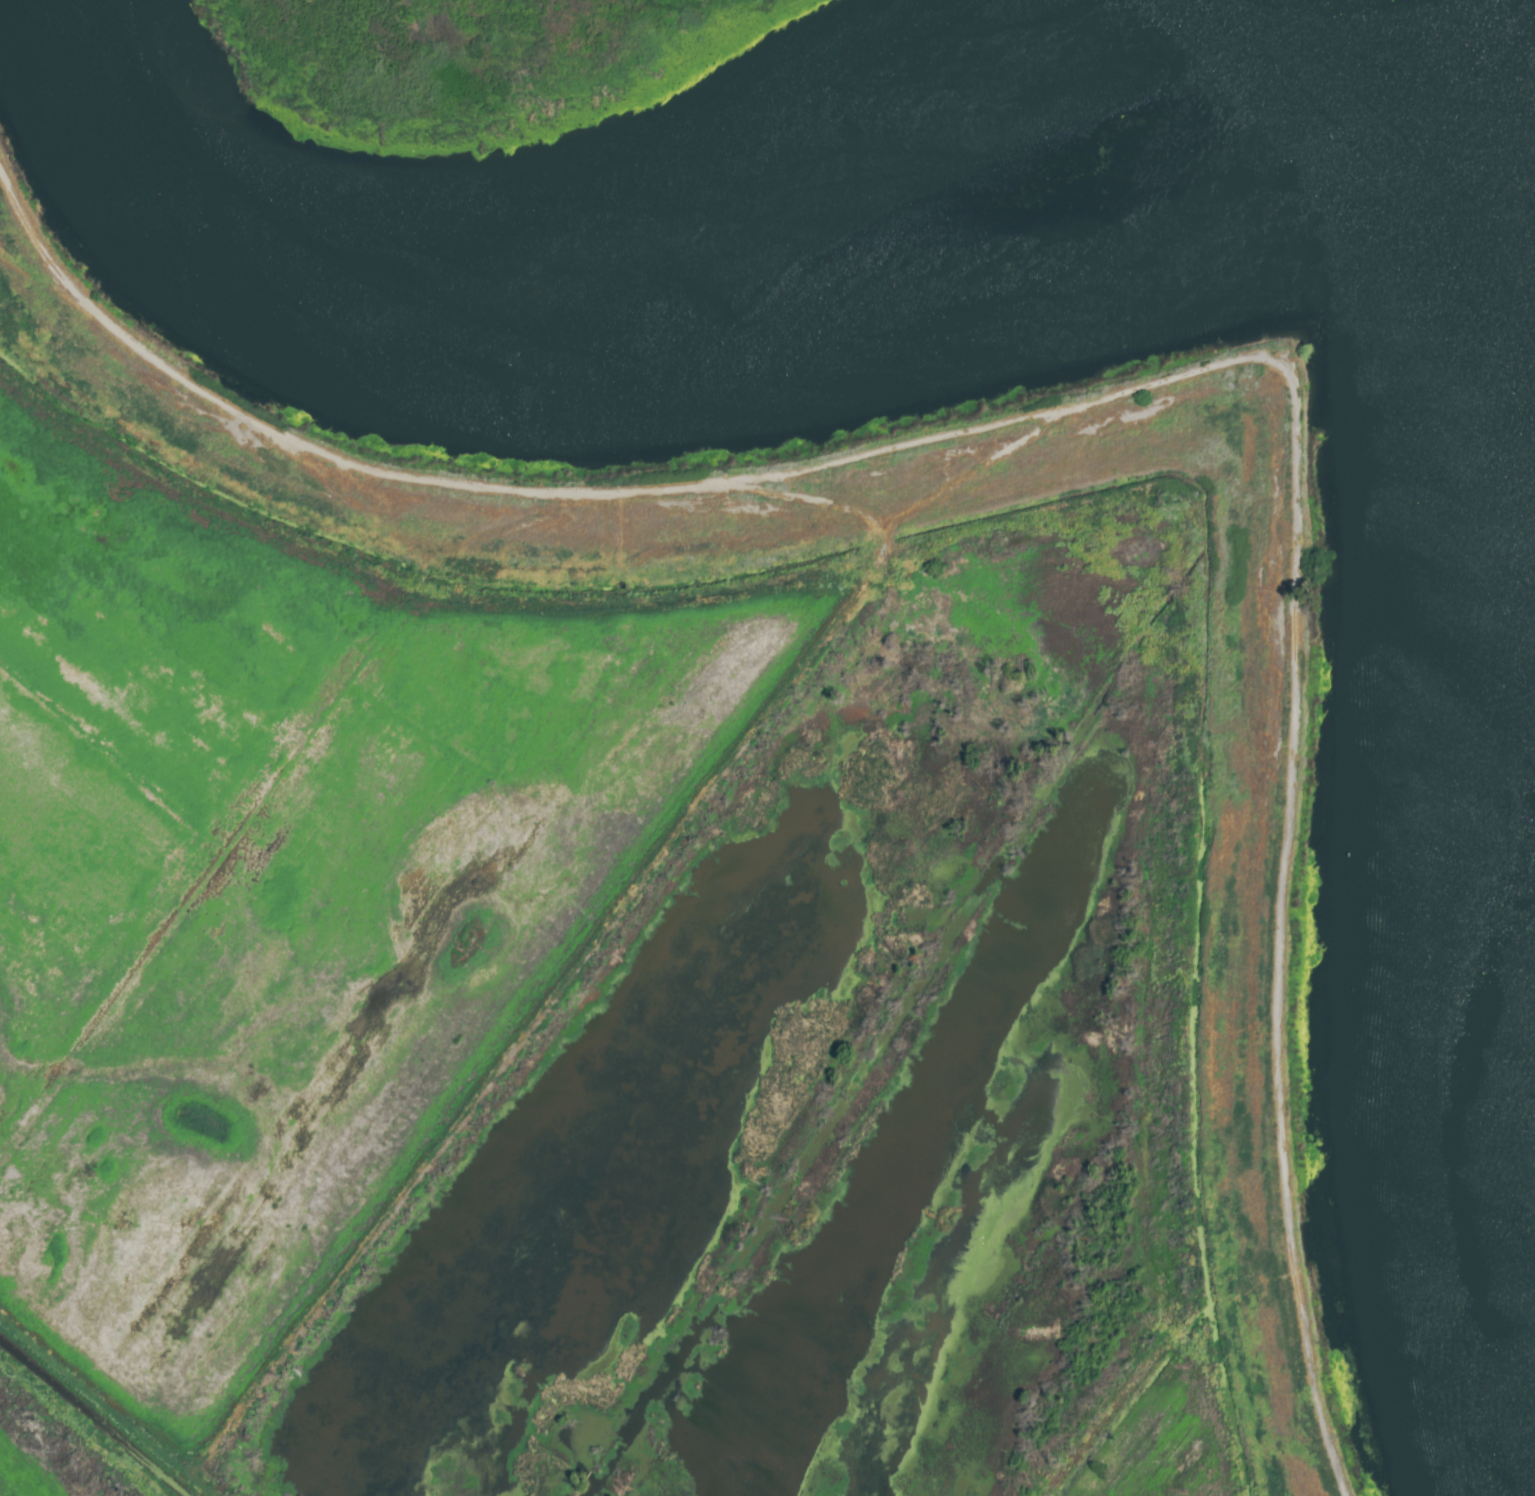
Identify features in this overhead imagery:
river: (1439, 66)
river: (616, 292)
crop: (295, 851)
crop: (1236, 1419)

